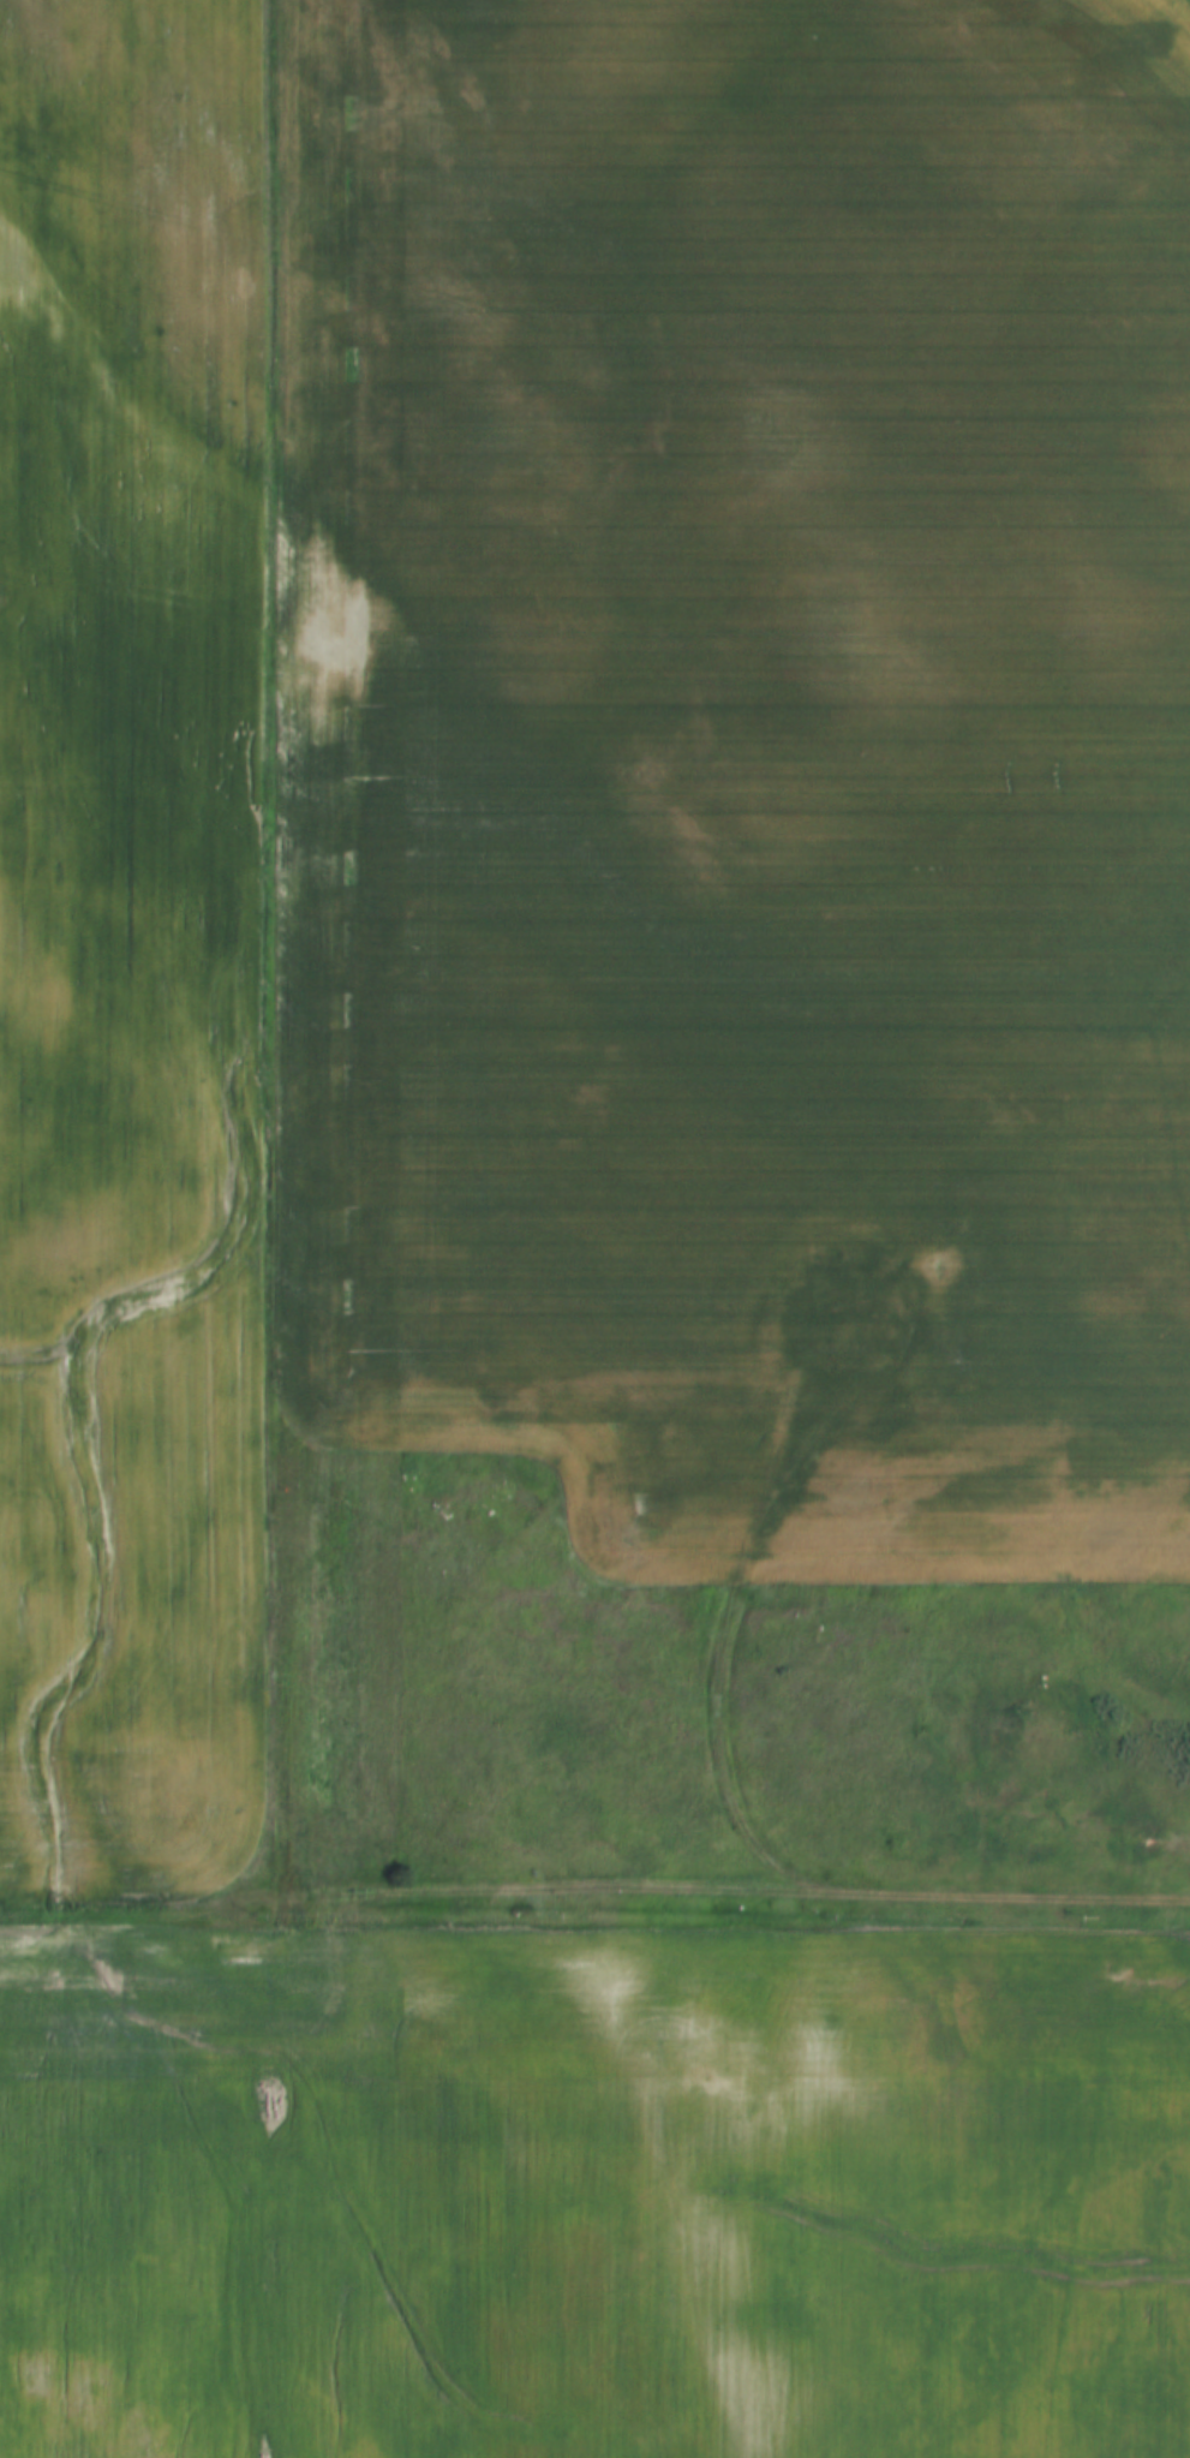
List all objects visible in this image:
road: (729, 1895)

